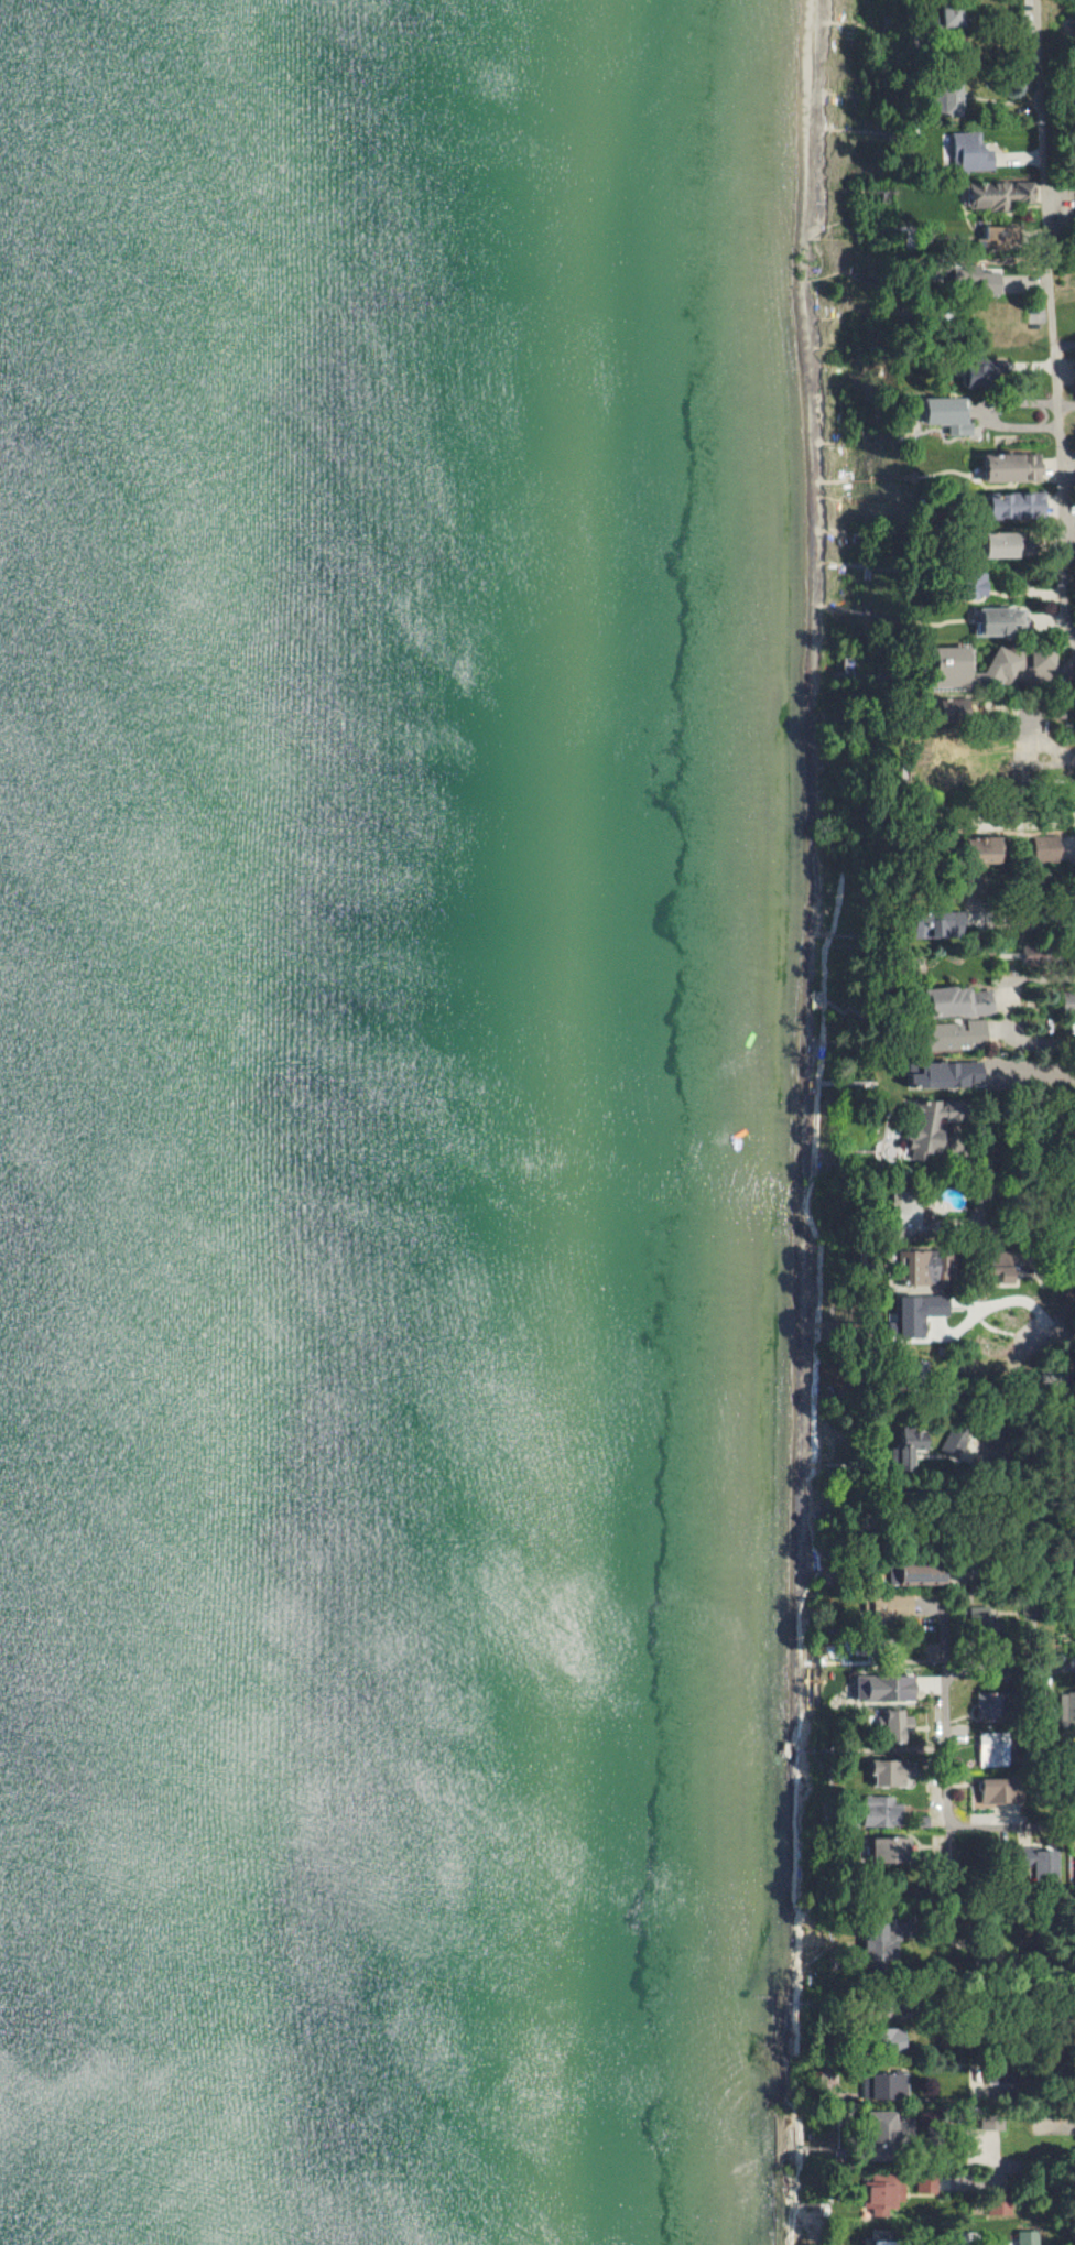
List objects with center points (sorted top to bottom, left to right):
building: (952, 17)
building: (970, 152)
building: (998, 194)
building: (992, 232)
building: (976, 279)
road: (1054, 314)
building: (979, 377)
road: (1066, 405)
building: (946, 414)
building: (1013, 467)
building: (1018, 505)
building: (1010, 543)
building: (979, 583)
building: (1000, 619)
building: (1044, 659)
building: (955, 665)
building: (956, 708)
road: (1043, 708)
building: (986, 848)
building: (1047, 848)
building: (947, 923)
building: (957, 1001)
building: (952, 1030)
road: (1066, 1071)
building: (944, 1074)
road: (1028, 1148)
building: (924, 1266)
building: (919, 1312)
road: (1000, 1323)
building: (911, 1446)
building: (956, 1446)
building: (916, 1575)
road: (1002, 1669)
building: (883, 1688)
building: (989, 1703)
building: (1065, 1713)
building: (893, 1729)
building: (991, 1749)
road: (944, 1763)
building: (997, 1792)
building: (880, 1812)
road: (1018, 1826)
building: (890, 1851)
building: (1039, 1863)
building: (1074, 1877)
road: (1042, 1965)
road: (1044, 1988)
building: (891, 2038)
building: (887, 2086)
building: (879, 2128)
road: (1062, 2157)
building: (924, 2187)
building: (881, 2195)
building: (998, 2209)
building: (1021, 2237)

